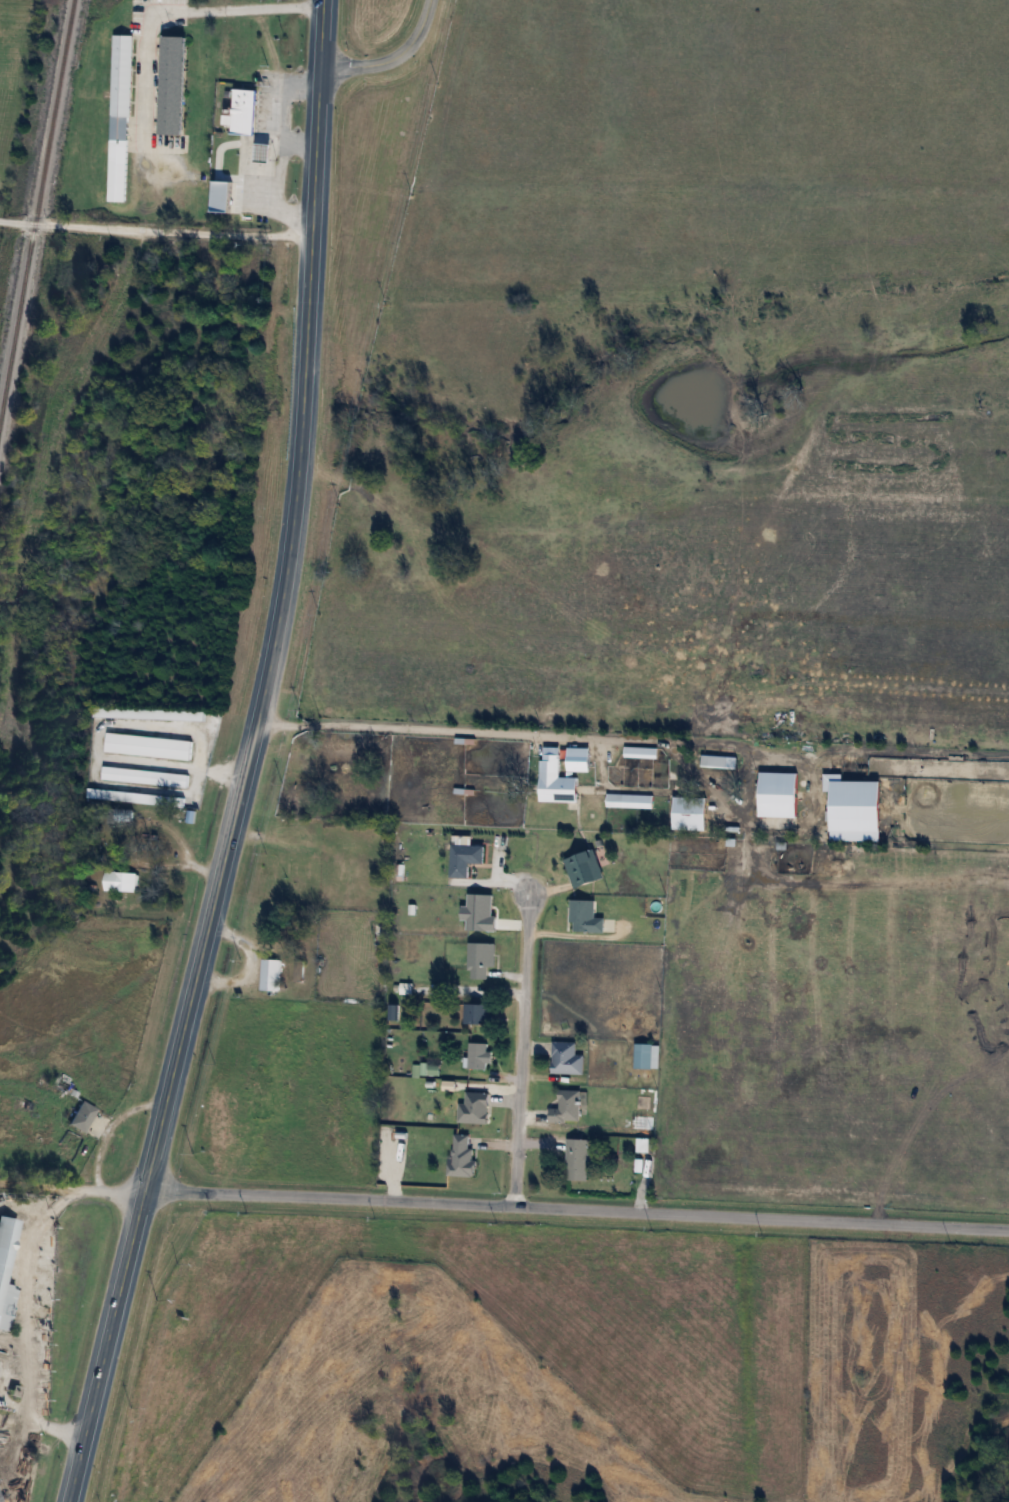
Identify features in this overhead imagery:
road: (182, 8)
road: (325, 31)
road: (389, 54)
parking lot: (147, 74)
building: (169, 78)
building: (240, 105)
building: (116, 111)
road: (300, 143)
road: (278, 148)
parking lot: (258, 149)
railway: (34, 196)
road: (157, 228)
building: (145, 708)
building: (148, 713)
road: (646, 737)
building: (144, 740)
building: (635, 746)
building: (573, 754)
building: (714, 756)
building: (141, 771)
building: (551, 776)
road: (586, 784)
road: (623, 786)
road: (238, 788)
building: (773, 788)
building: (130, 792)
building: (625, 796)
building: (851, 804)
building: (686, 808)
building: (458, 853)
road: (492, 854)
building: (578, 862)
road: (484, 877)
building: (121, 881)
road: (544, 886)
building: (580, 911)
road: (580, 933)
building: (475, 952)
road: (244, 961)
building: (265, 968)
road: (501, 971)
building: (400, 984)
road: (464, 988)
building: (471, 1007)
road: (530, 1044)
road: (515, 1046)
building: (473, 1049)
building: (642, 1050)
building: (561, 1053)
road: (497, 1073)
road: (499, 1096)
building: (638, 1097)
building: (468, 1102)
building: (560, 1102)
road: (527, 1112)
building: (84, 1116)
road: (106, 1123)
building: (396, 1130)
building: (637, 1140)
road: (488, 1141)
road: (535, 1142)
building: (644, 1144)
building: (455, 1153)
building: (571, 1154)
building: (633, 1160)
road: (70, 1186)
road: (575, 1206)
building: (4, 1230)
road: (20, 1323)

